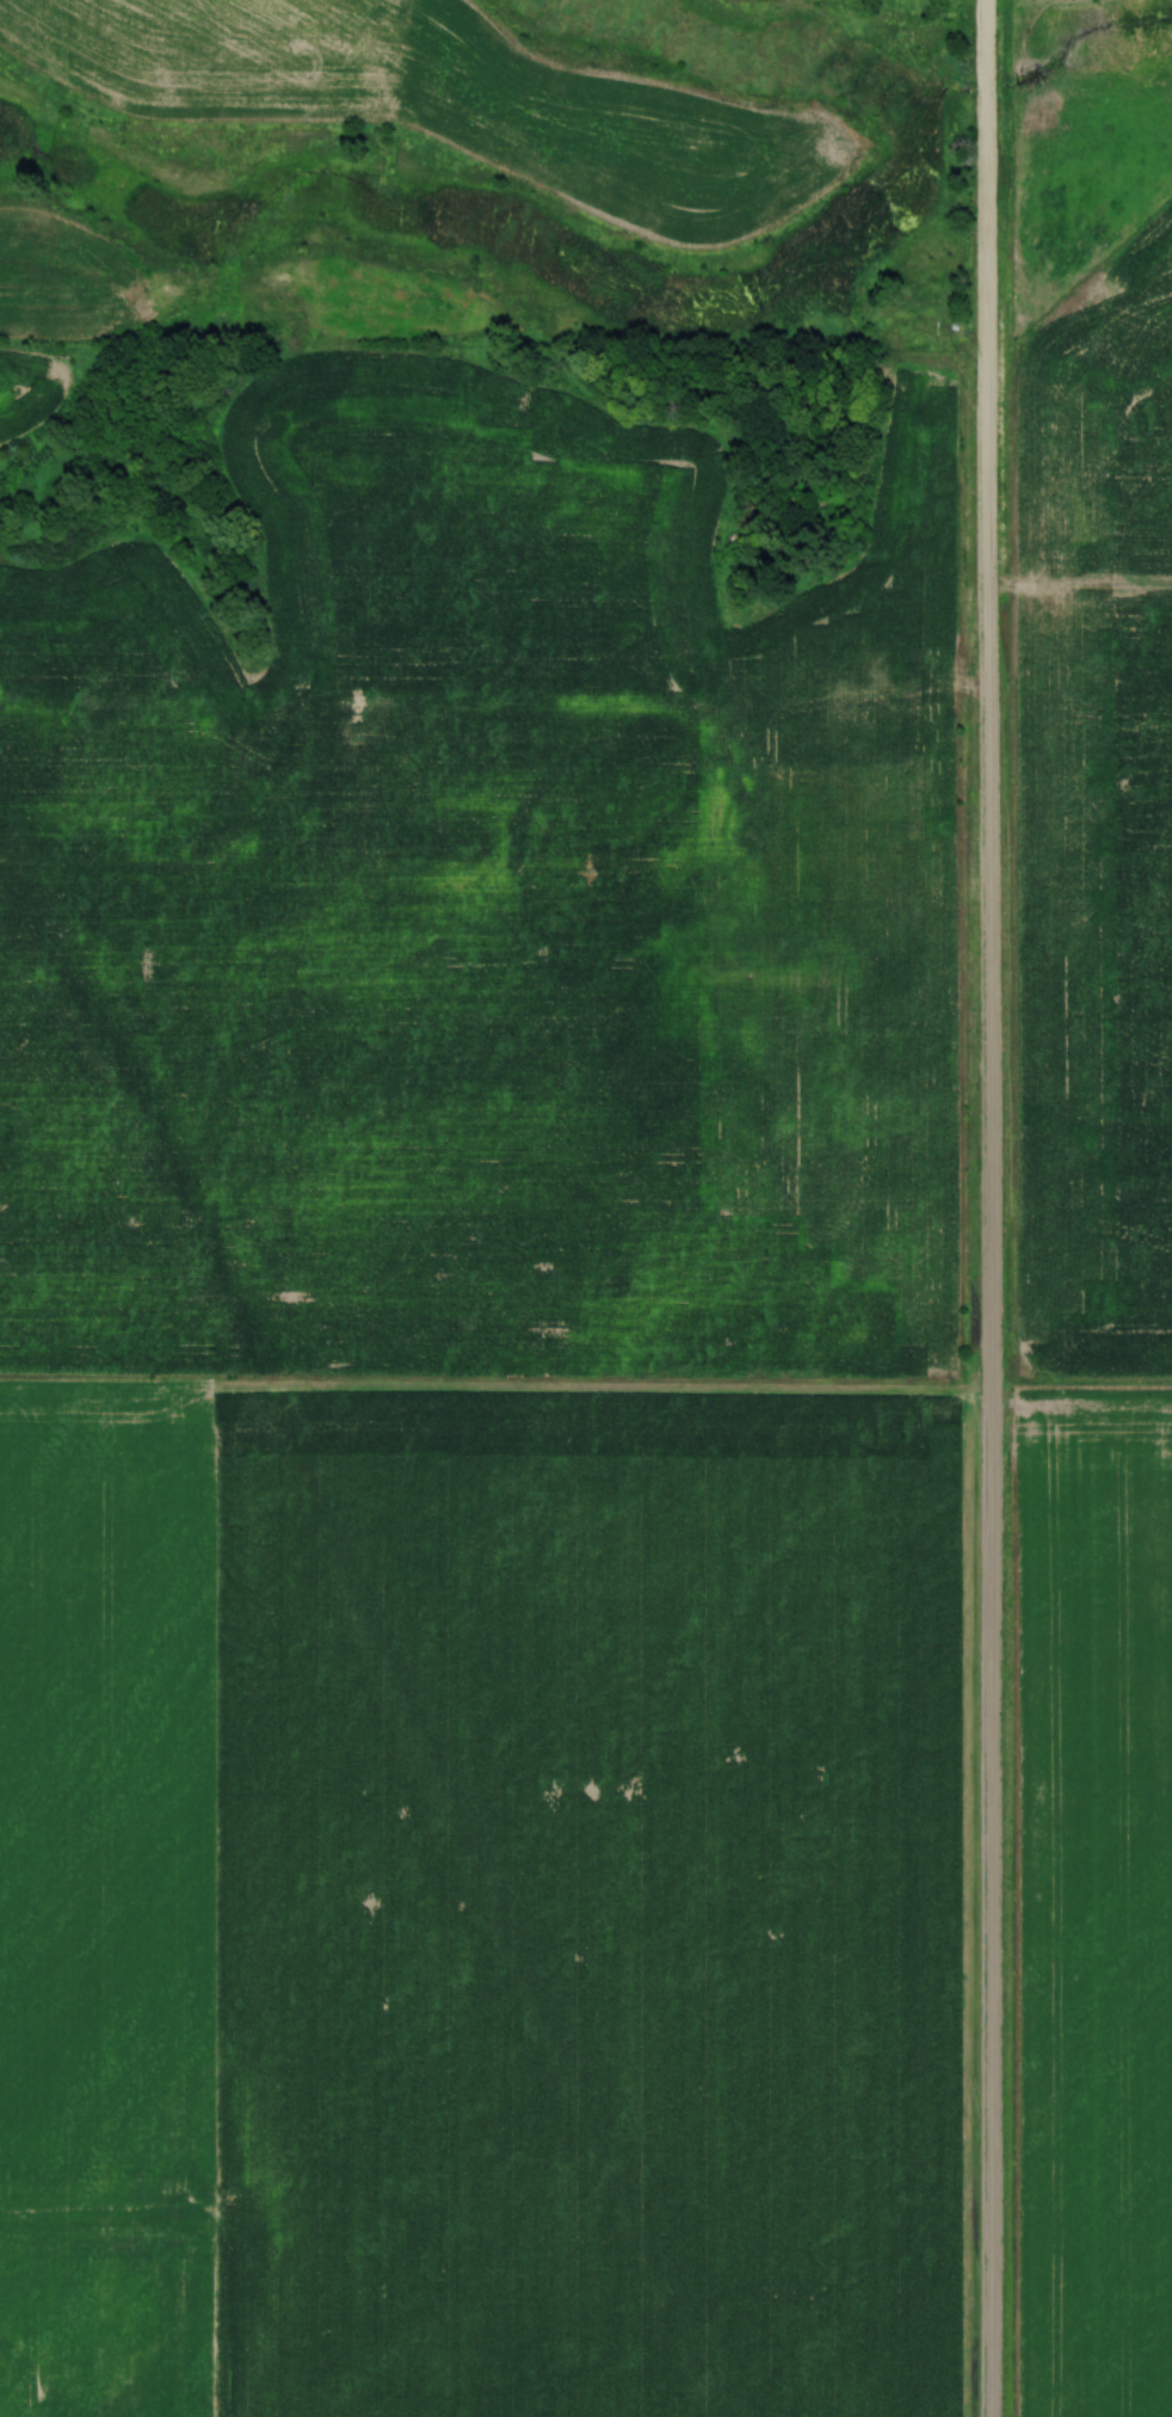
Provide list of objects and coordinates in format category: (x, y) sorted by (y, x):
road: (983, 1208)

